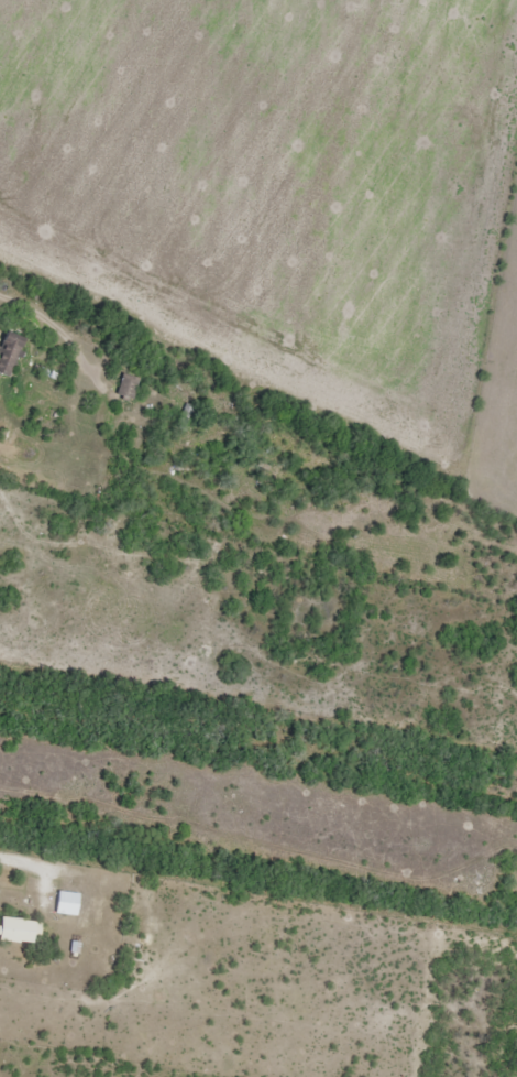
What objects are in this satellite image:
building: (10, 351)
road: (121, 353)
building: (66, 904)
building: (19, 932)

